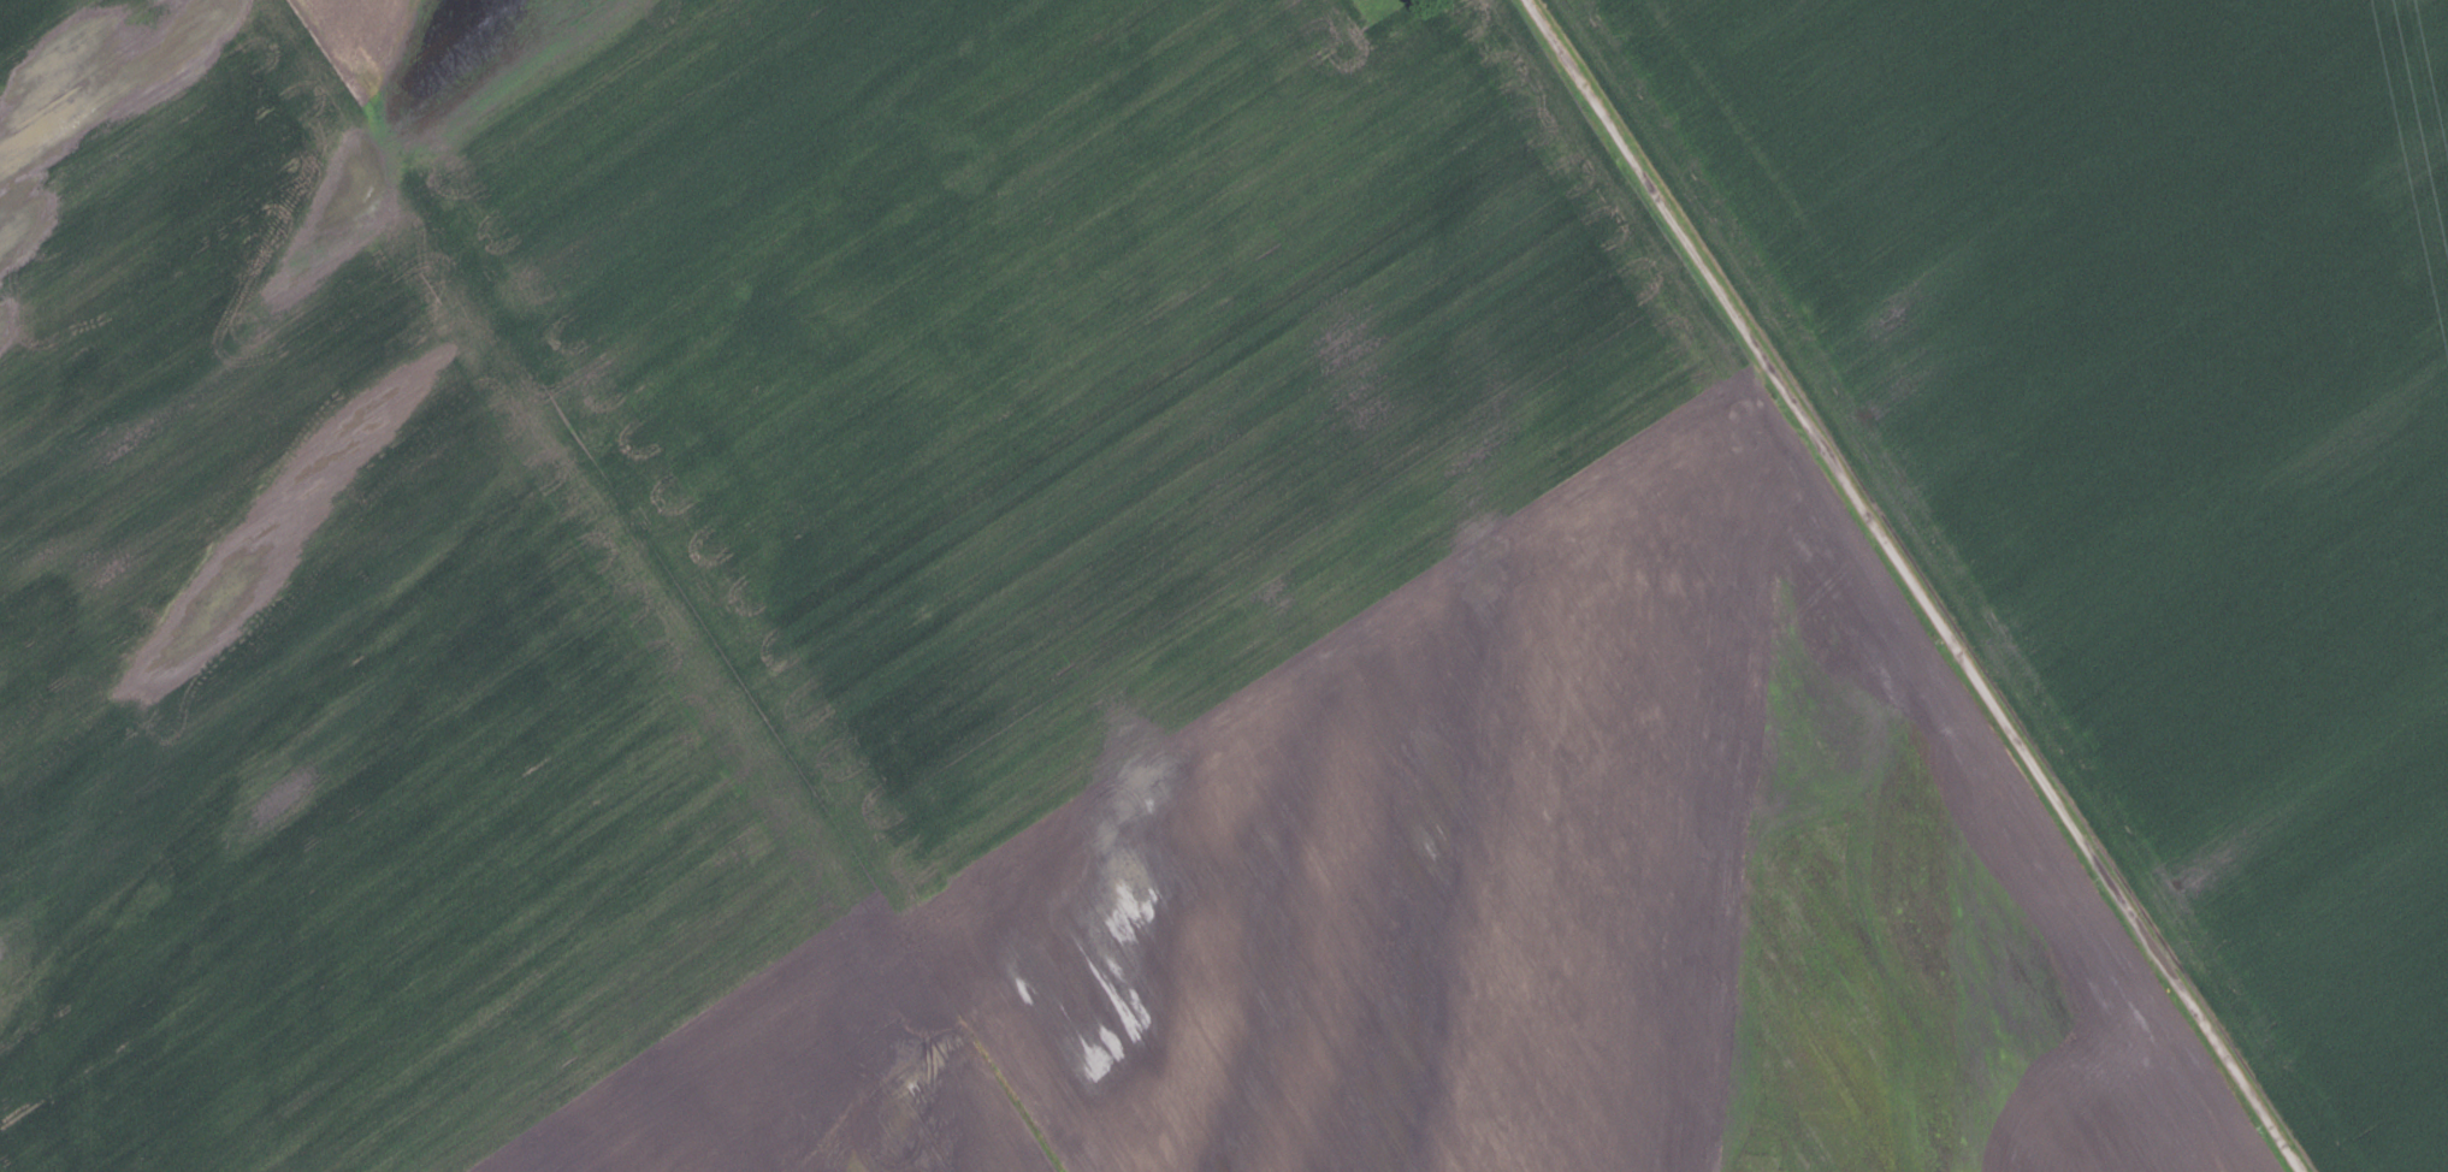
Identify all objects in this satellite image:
crop: (2136, 439)
road: (1916, 586)
crop: (962, 626)

